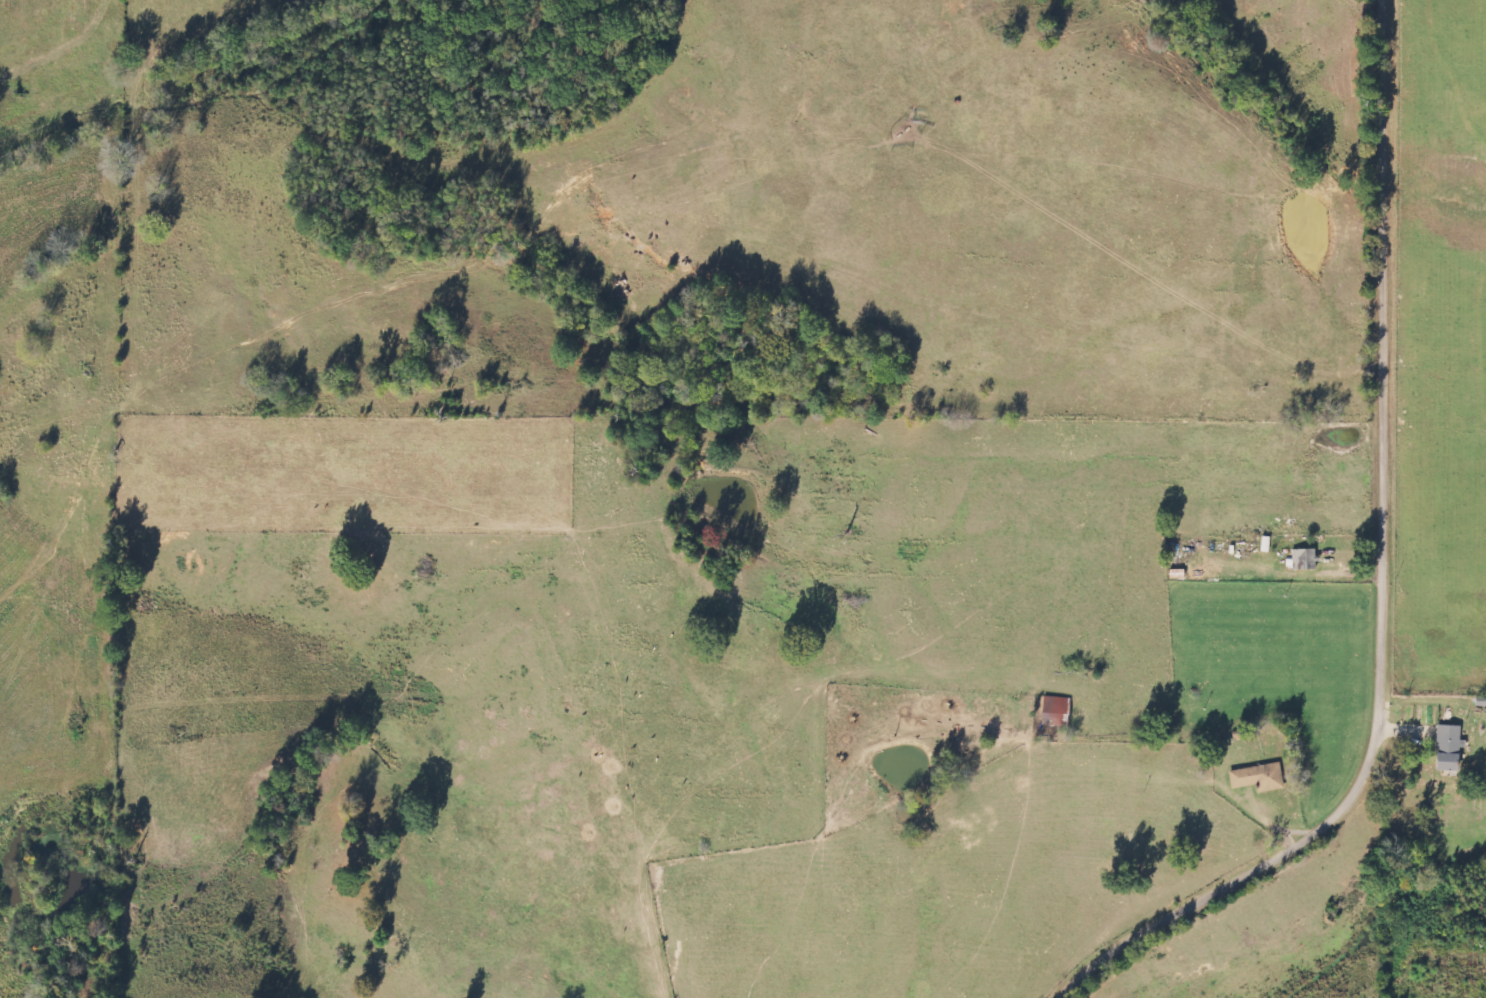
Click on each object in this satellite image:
building: (1302, 560)
road: (1389, 577)
building: (1055, 712)
building: (1445, 747)
building: (1256, 778)

